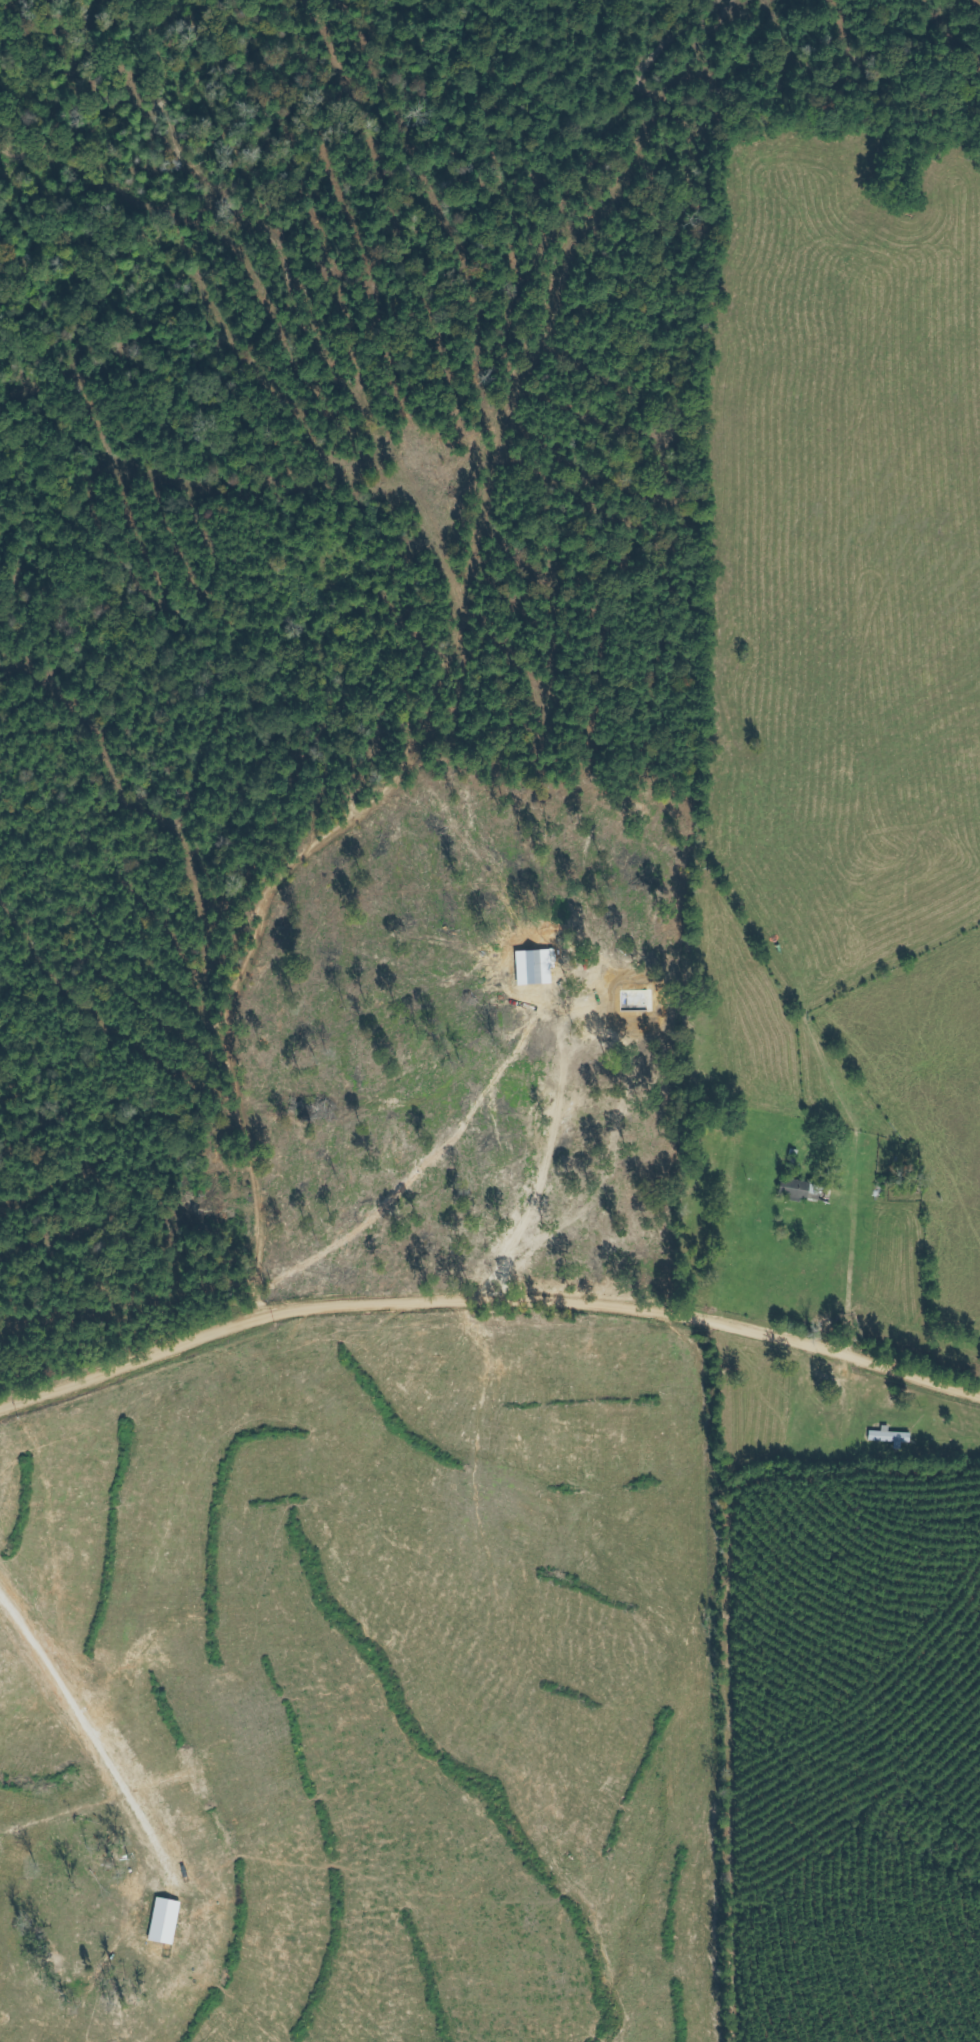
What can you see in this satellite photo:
building: (794, 1189)
road: (489, 1299)
road: (723, 1400)
building: (886, 1435)

